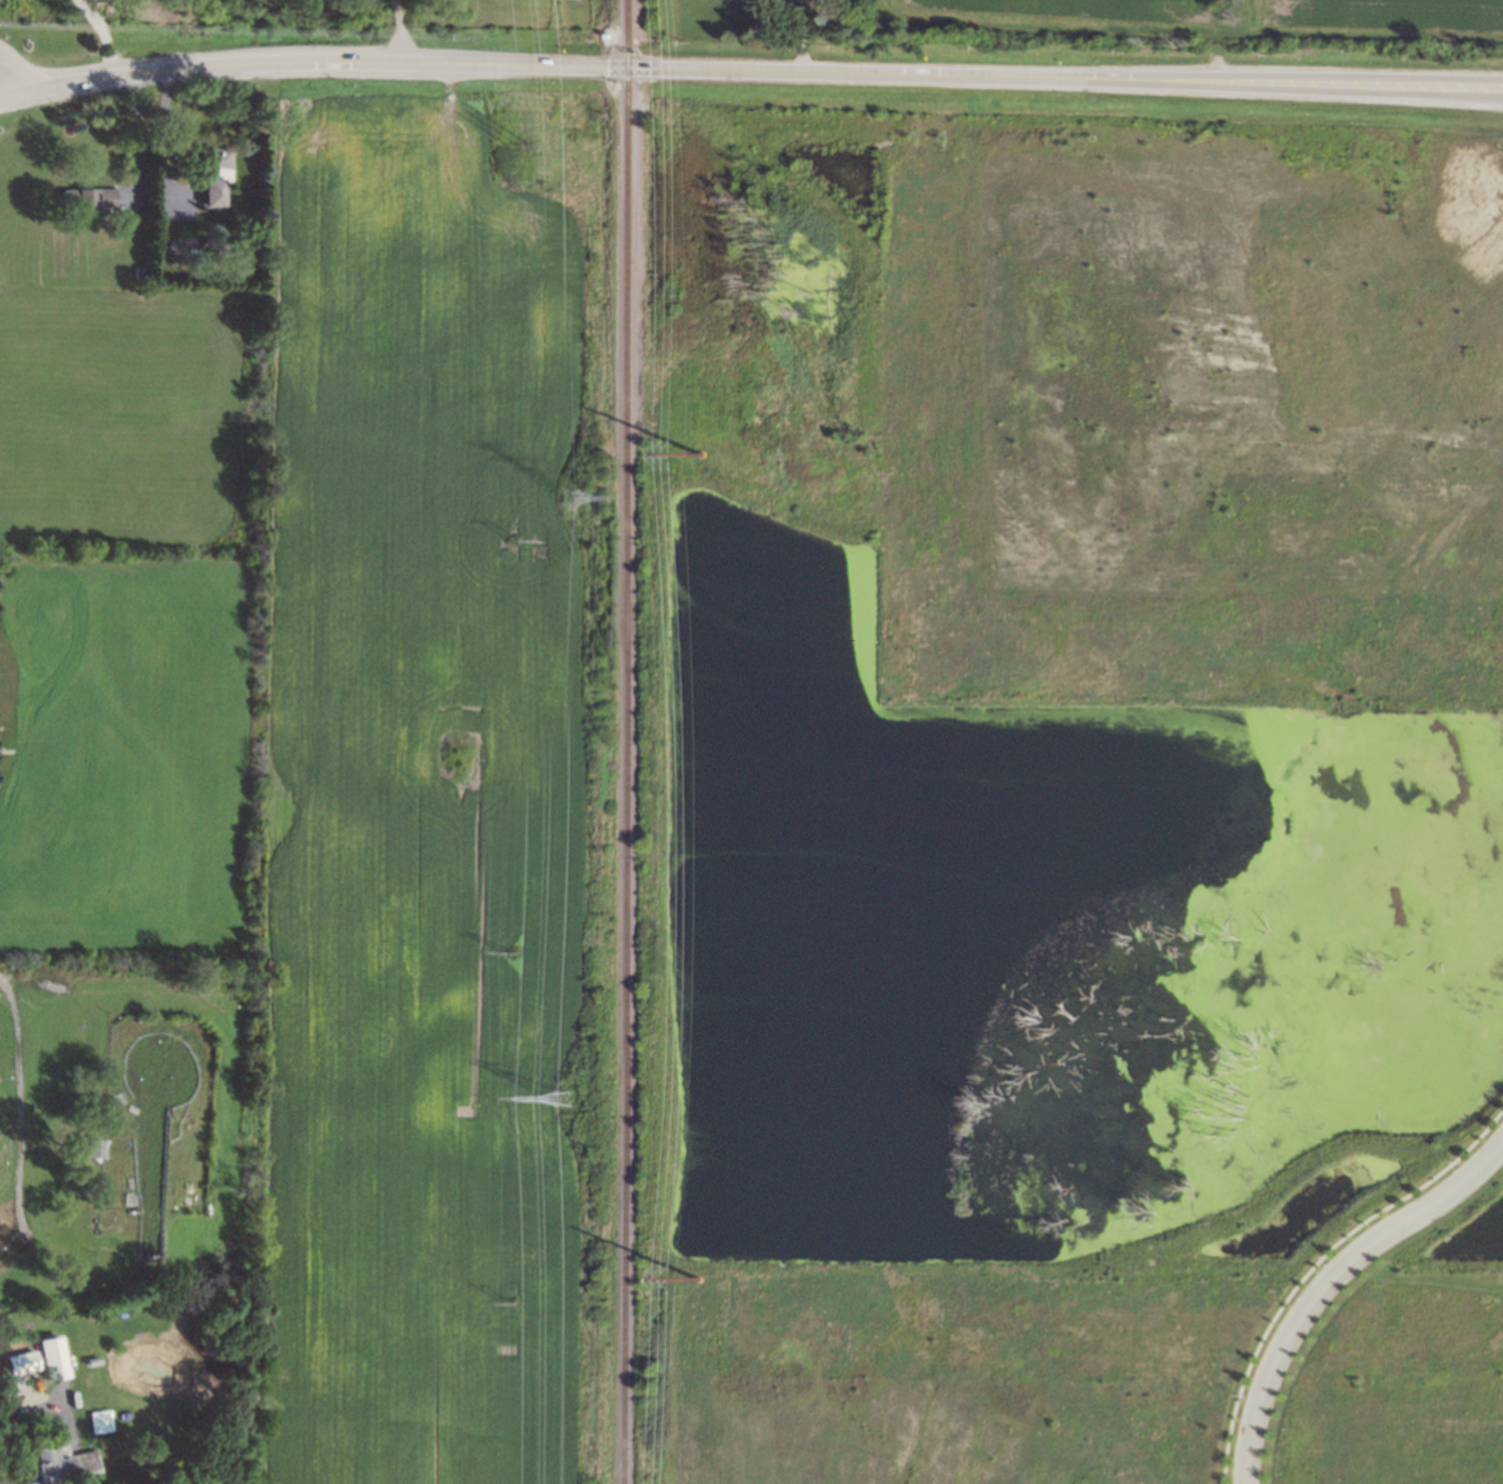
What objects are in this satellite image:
road: (403, 31)
road: (105, 34)
road: (749, 70)
road: (16, 71)
road: (163, 135)
power tower: (517, 136)
road: (140, 141)
building: (216, 174)
building: (87, 199)
power tower: (700, 452)
power tower: (576, 498)
crop: (382, 522)
power tower: (516, 540)
railway: (623, 742)
power tower: (512, 953)
road: (20, 1092)
power tower: (579, 1100)
building: (95, 1149)
power tower: (696, 1277)
road: (1329, 1283)
power tower: (510, 1300)
building: (47, 1358)
road: (32, 1408)
building: (67, 1463)

